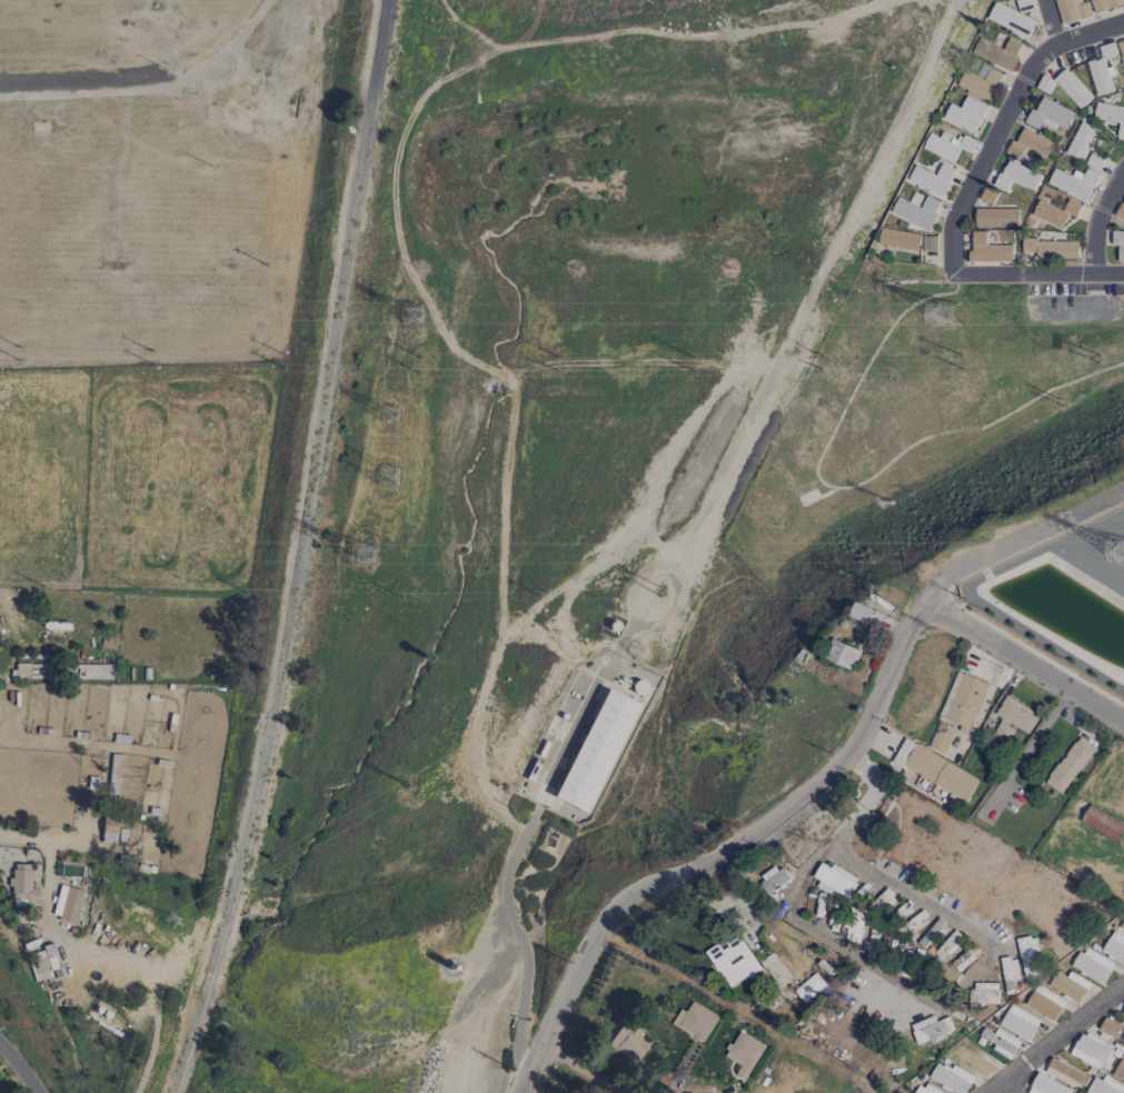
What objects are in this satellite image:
building: (1024, 4)
building: (1105, 4)
building: (1071, 10)
building: (1011, 20)
road: (1052, 21)
road: (1092, 30)
road: (679, 32)
building: (1121, 47)
building: (1107, 50)
building: (997, 51)
building: (1101, 76)
building: (1045, 83)
building: (979, 85)
building: (1072, 88)
building: (305, 107)
building: (966, 113)
building: (1050, 115)
building: (1111, 115)
building: (1082, 140)
building: (1029, 145)
building: (944, 149)
building: (1095, 160)
building: (1017, 177)
building: (932, 179)
building: (1073, 182)
building: (987, 195)
building: (916, 210)
building: (1056, 211)
building: (1121, 211)
building: (996, 217)
building: (899, 238)
building: (1118, 245)
building: (1050, 249)
building: (987, 250)
road: (952, 267)
road: (1108, 274)
power tower: (408, 306)
power tower: (949, 309)
power tower: (17, 347)
power tower: (149, 350)
power tower: (956, 354)
power tower: (281, 356)
power tower: (688, 357)
power tower: (822, 357)
power tower: (417, 358)
power tower: (555, 358)
power tower: (16, 359)
power tower: (149, 365)
power tower: (956, 366)
power tower: (280, 368)
power tower: (822, 369)
power tower: (688, 370)
power tower: (555, 371)
power tower: (417, 374)
power tower: (394, 407)
power tower: (394, 470)
road: (1017, 539)
railway: (299, 550)
power tower: (368, 550)
power substation: (1062, 604)
building: (861, 613)
building: (840, 654)
road: (1023, 664)
building: (22, 672)
building: (962, 699)
building: (1016, 714)
building: (1003, 729)
wastewater plant: (590, 736)
building: (941, 736)
road: (1034, 739)
building: (596, 751)
building: (1070, 764)
building: (935, 769)
building: (109, 828)
road: (723, 855)
road: (867, 870)
building: (833, 877)
building: (772, 880)
building: (21, 885)
building: (67, 904)
road: (509, 912)
building: (1122, 925)
building: (931, 932)
road: (830, 936)
building: (947, 944)
building: (1114, 946)
road: (95, 952)
building: (1028, 956)
building: (733, 961)
building: (962, 961)
building: (42, 963)
building: (1092, 965)
building: (1009, 974)
building: (1068, 985)
building: (812, 990)
building: (987, 991)
building: (1044, 1002)
building: (1123, 1013)
building: (695, 1021)
building: (1018, 1022)
building: (931, 1029)
building: (1111, 1029)
road: (1054, 1040)
building: (1001, 1042)
building: (629, 1043)
building: (1090, 1050)
road: (519, 1054)
building: (744, 1054)
building: (975, 1061)
road: (19, 1069)
building: (1120, 1070)
road: (579, 1071)
building: (1065, 1073)
building: (951, 1079)
building: (1046, 1085)
building: (1104, 1086)
road: (1007, 1087)
building: (925, 1089)

